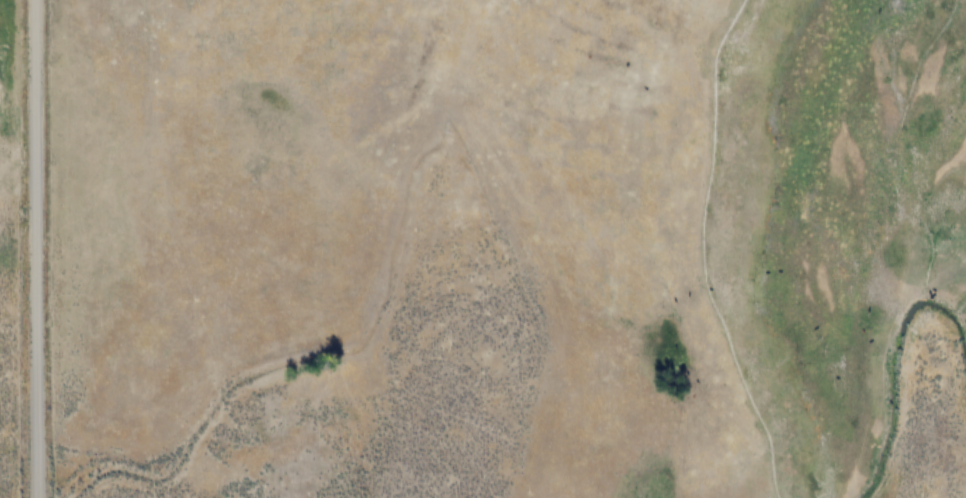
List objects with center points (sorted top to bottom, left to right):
road: (35, 249)

